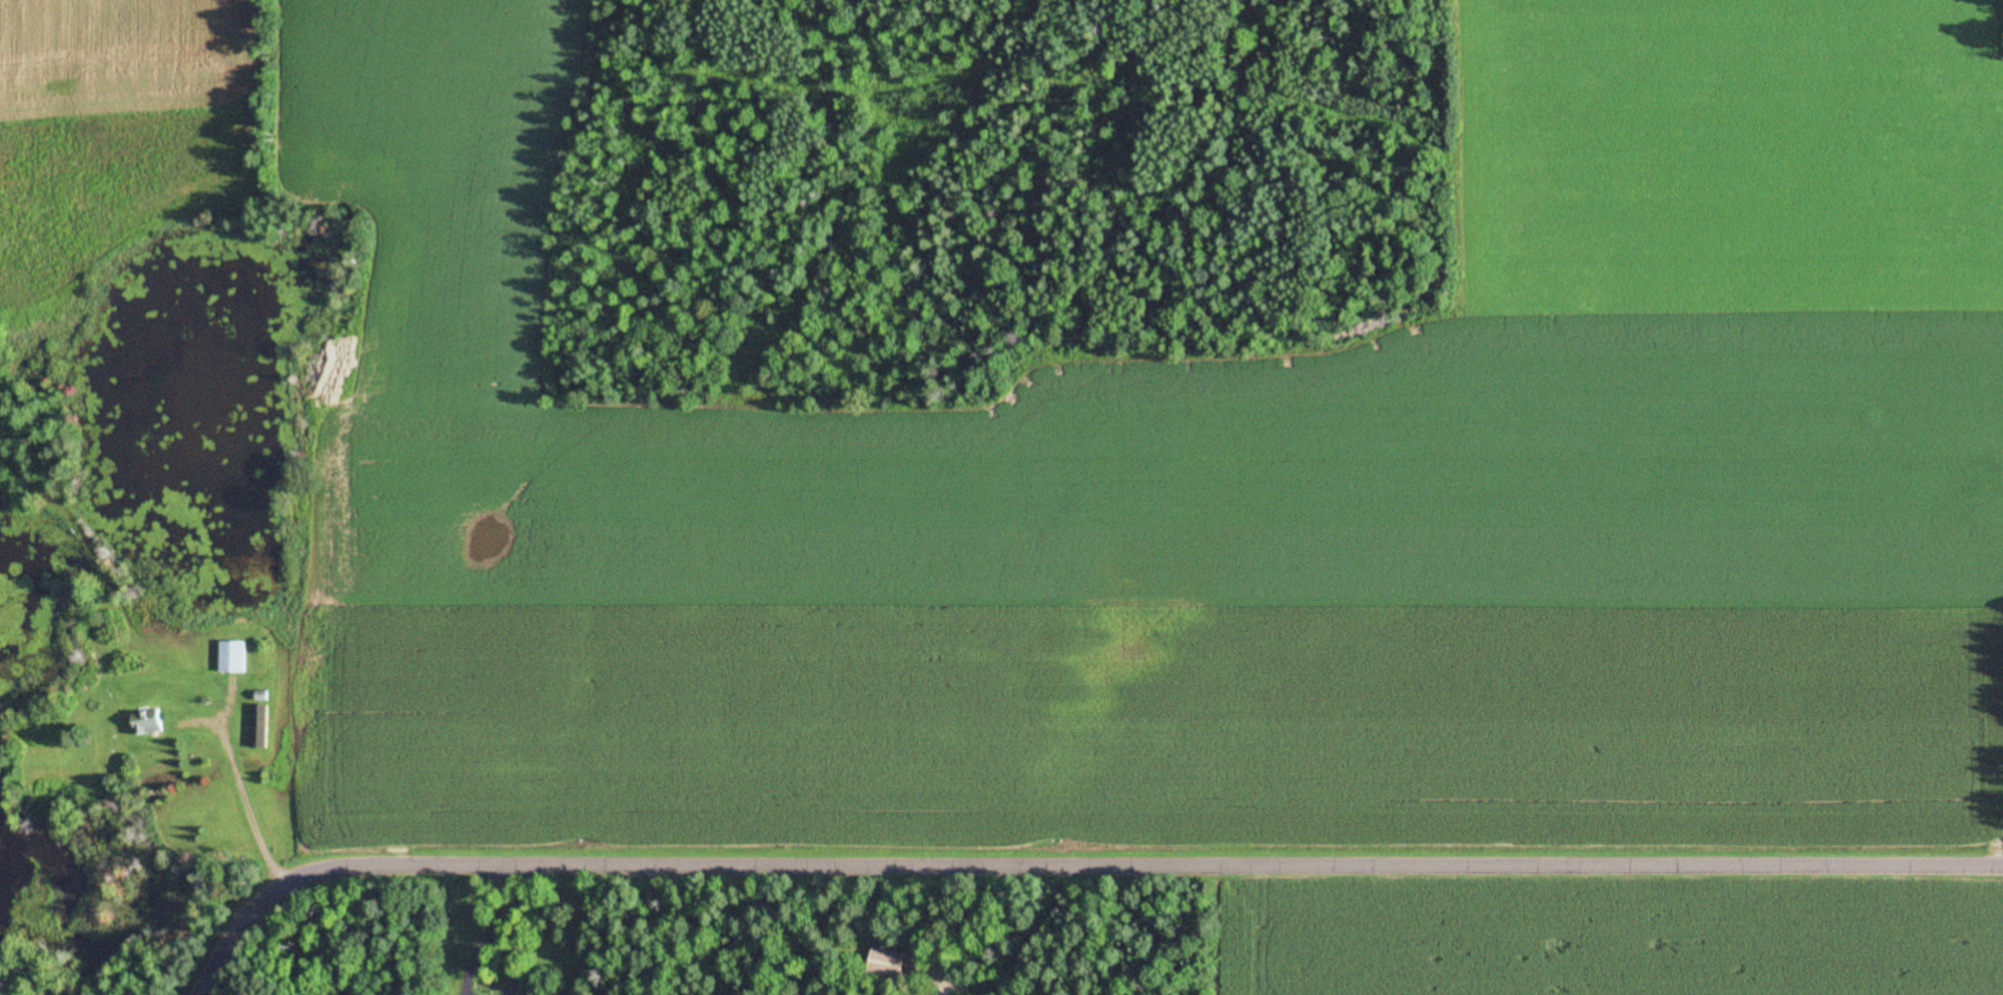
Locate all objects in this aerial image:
building: (234, 657)
building: (150, 722)
building: (261, 727)
road: (1069, 859)
building: (886, 962)

